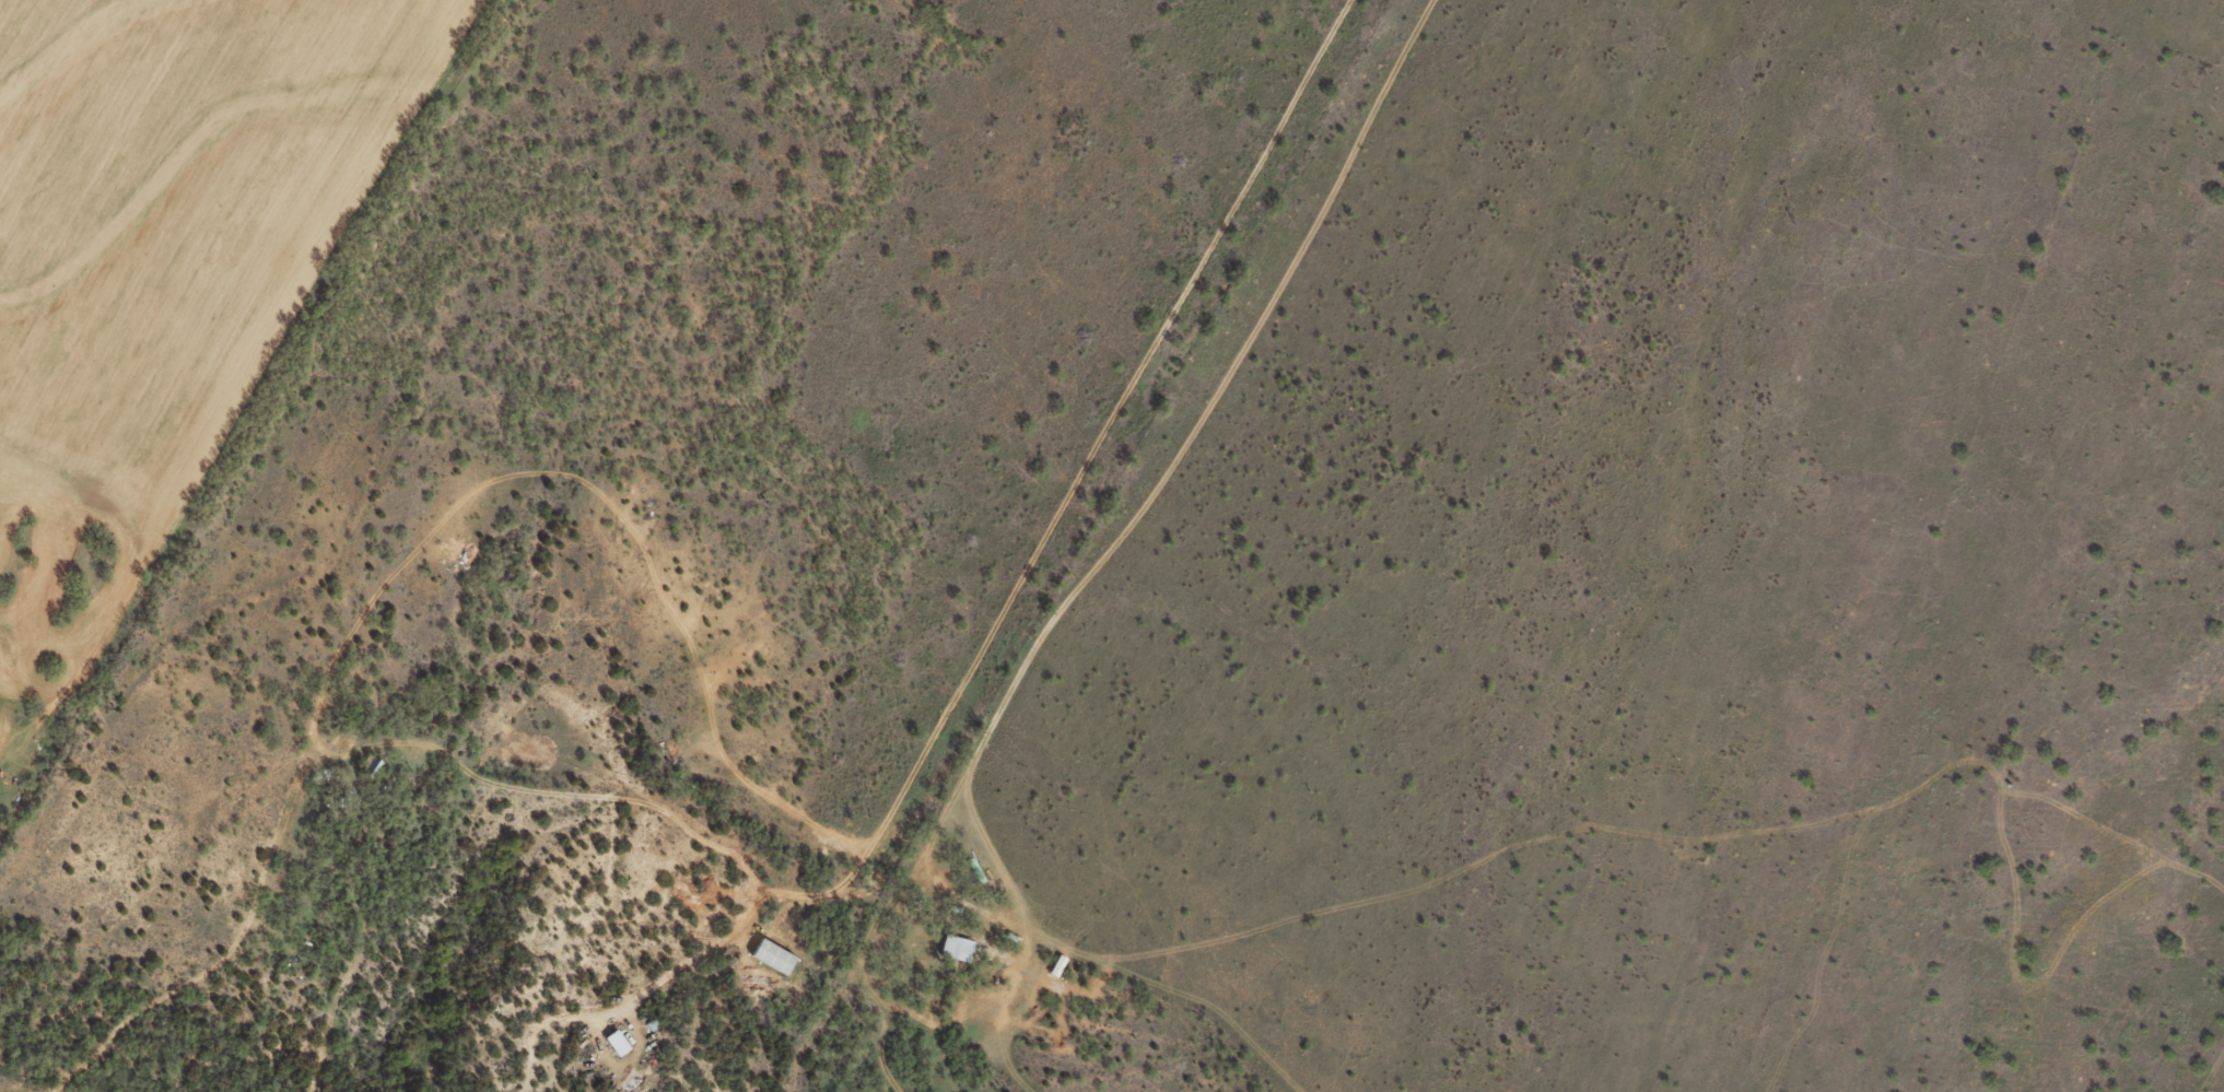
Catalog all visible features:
road: (869, 871)
building: (959, 948)
building: (777, 956)
road: (921, 994)
building: (621, 1043)

